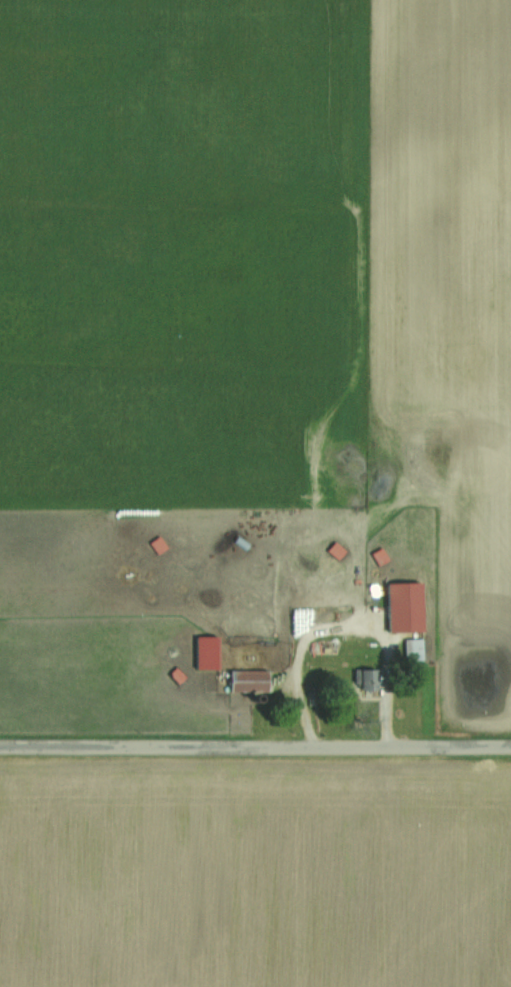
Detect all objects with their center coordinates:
building: (232, 542)
building: (382, 556)
building: (416, 651)
building: (370, 679)
building: (251, 681)
road: (255, 747)

